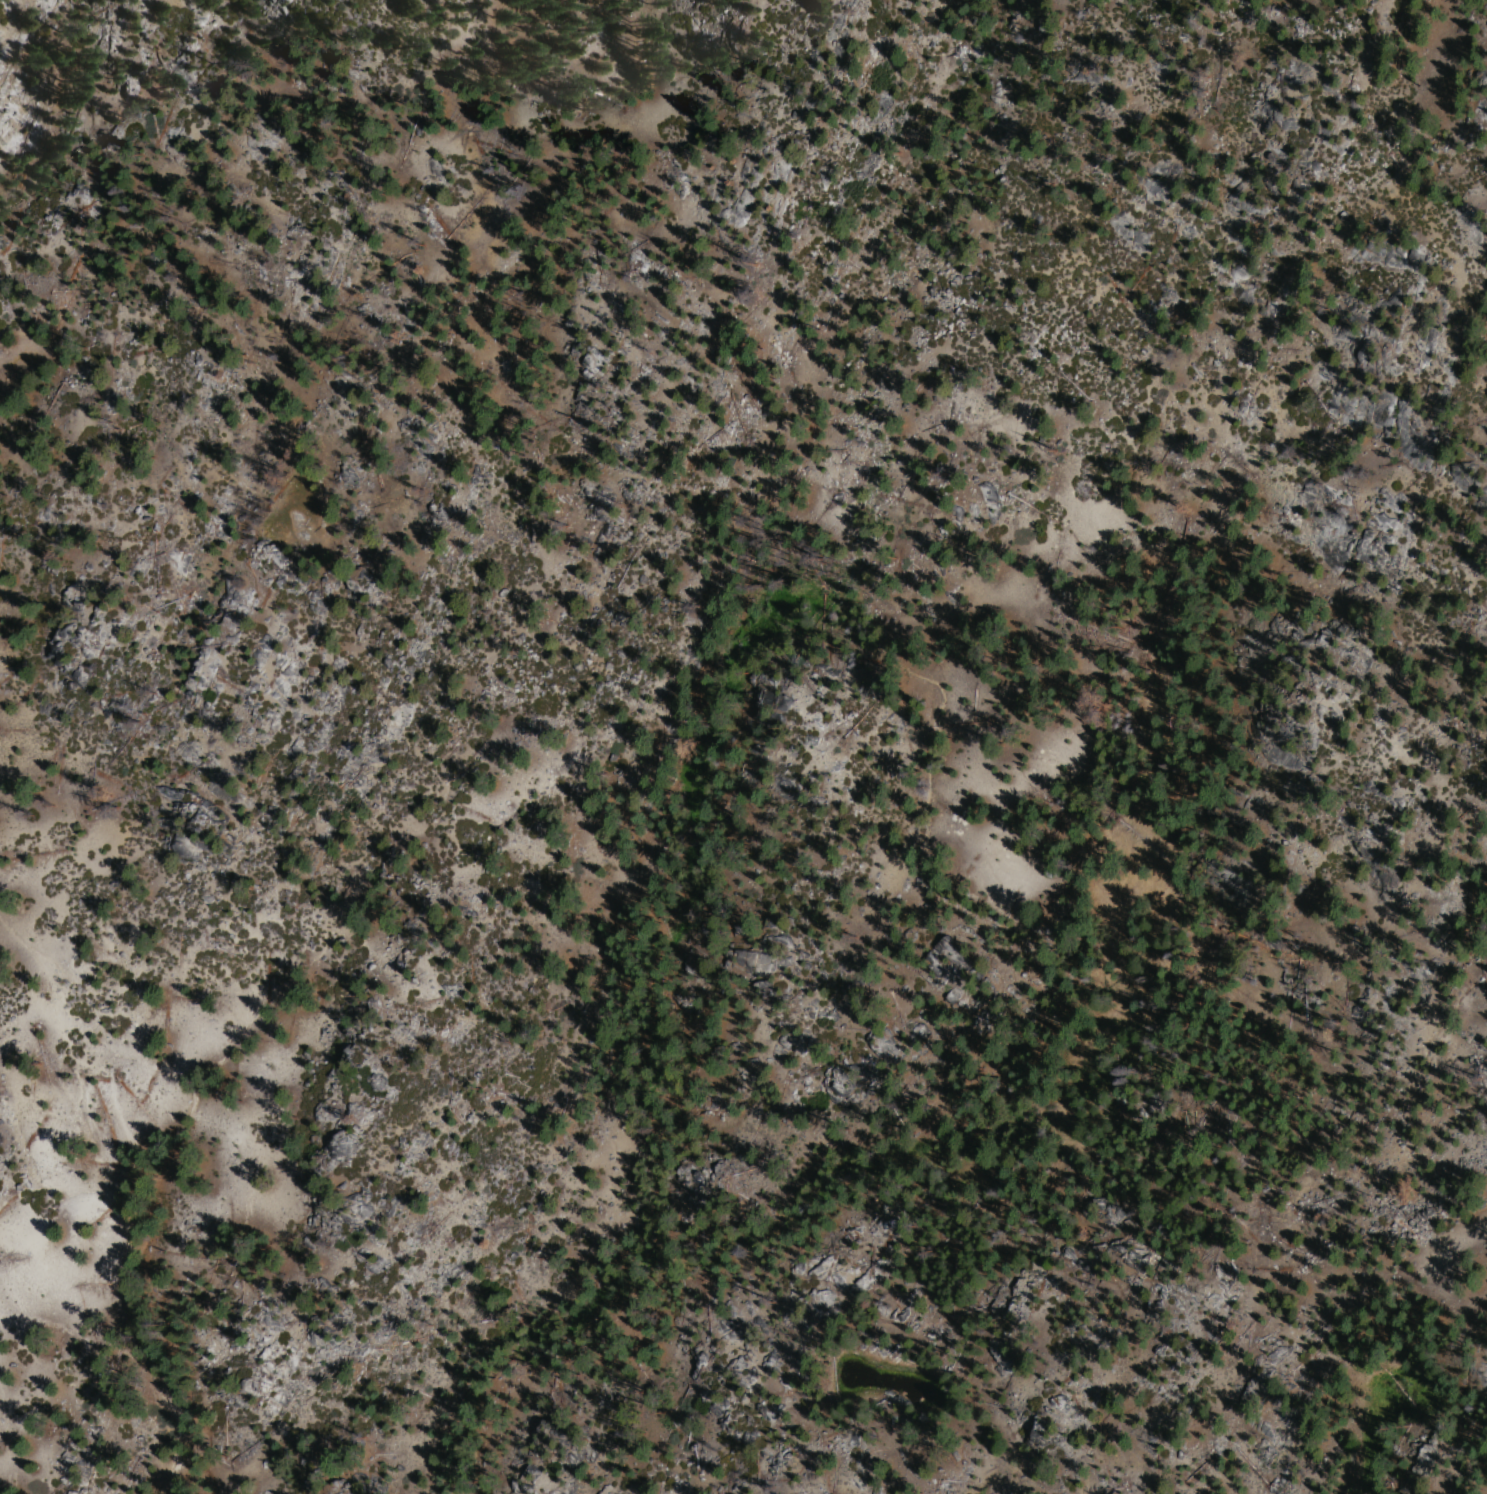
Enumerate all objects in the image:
road: (163, 1168)

